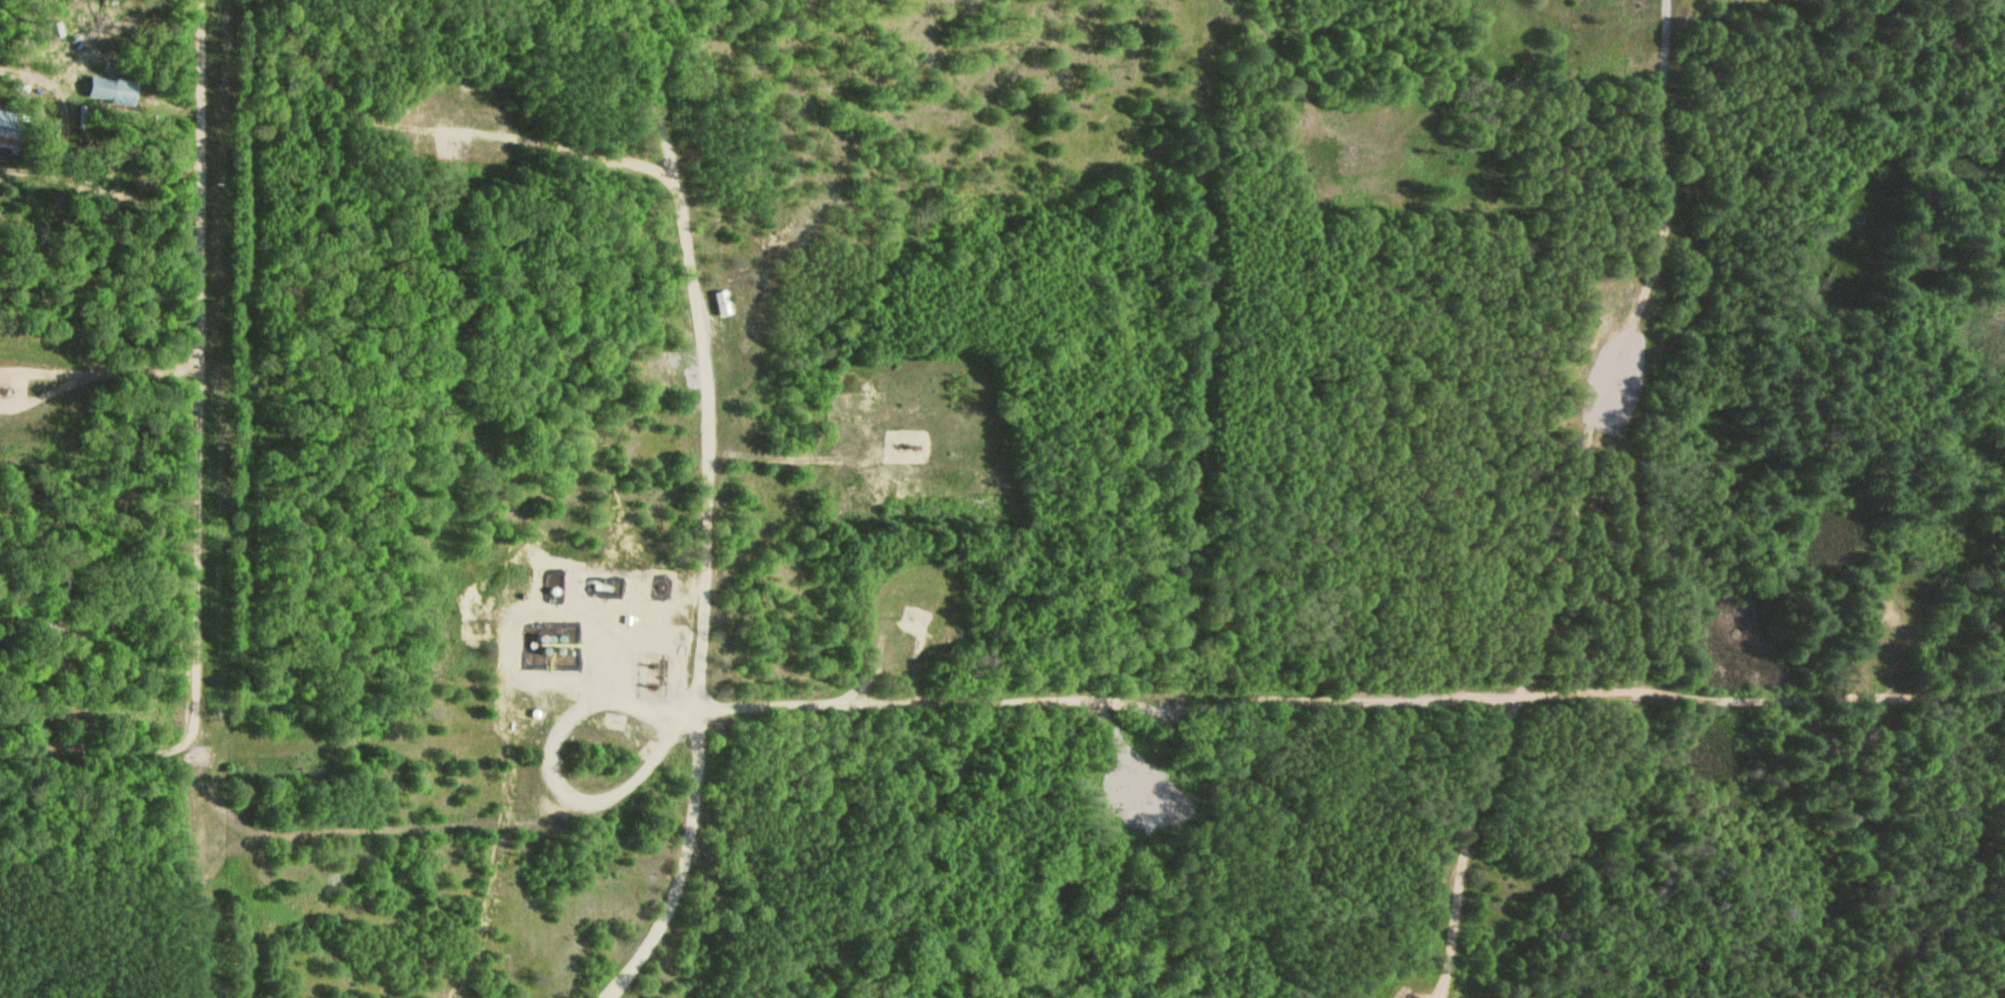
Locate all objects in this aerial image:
road: (1280, 76)
building: (8, 130)
road: (924, 230)
building: (720, 304)
road: (1614, 349)
petroleum well: (905, 449)
road: (194, 499)
road: (712, 506)
road: (1075, 708)
road: (95, 755)
road: (229, 810)
road: (205, 987)

